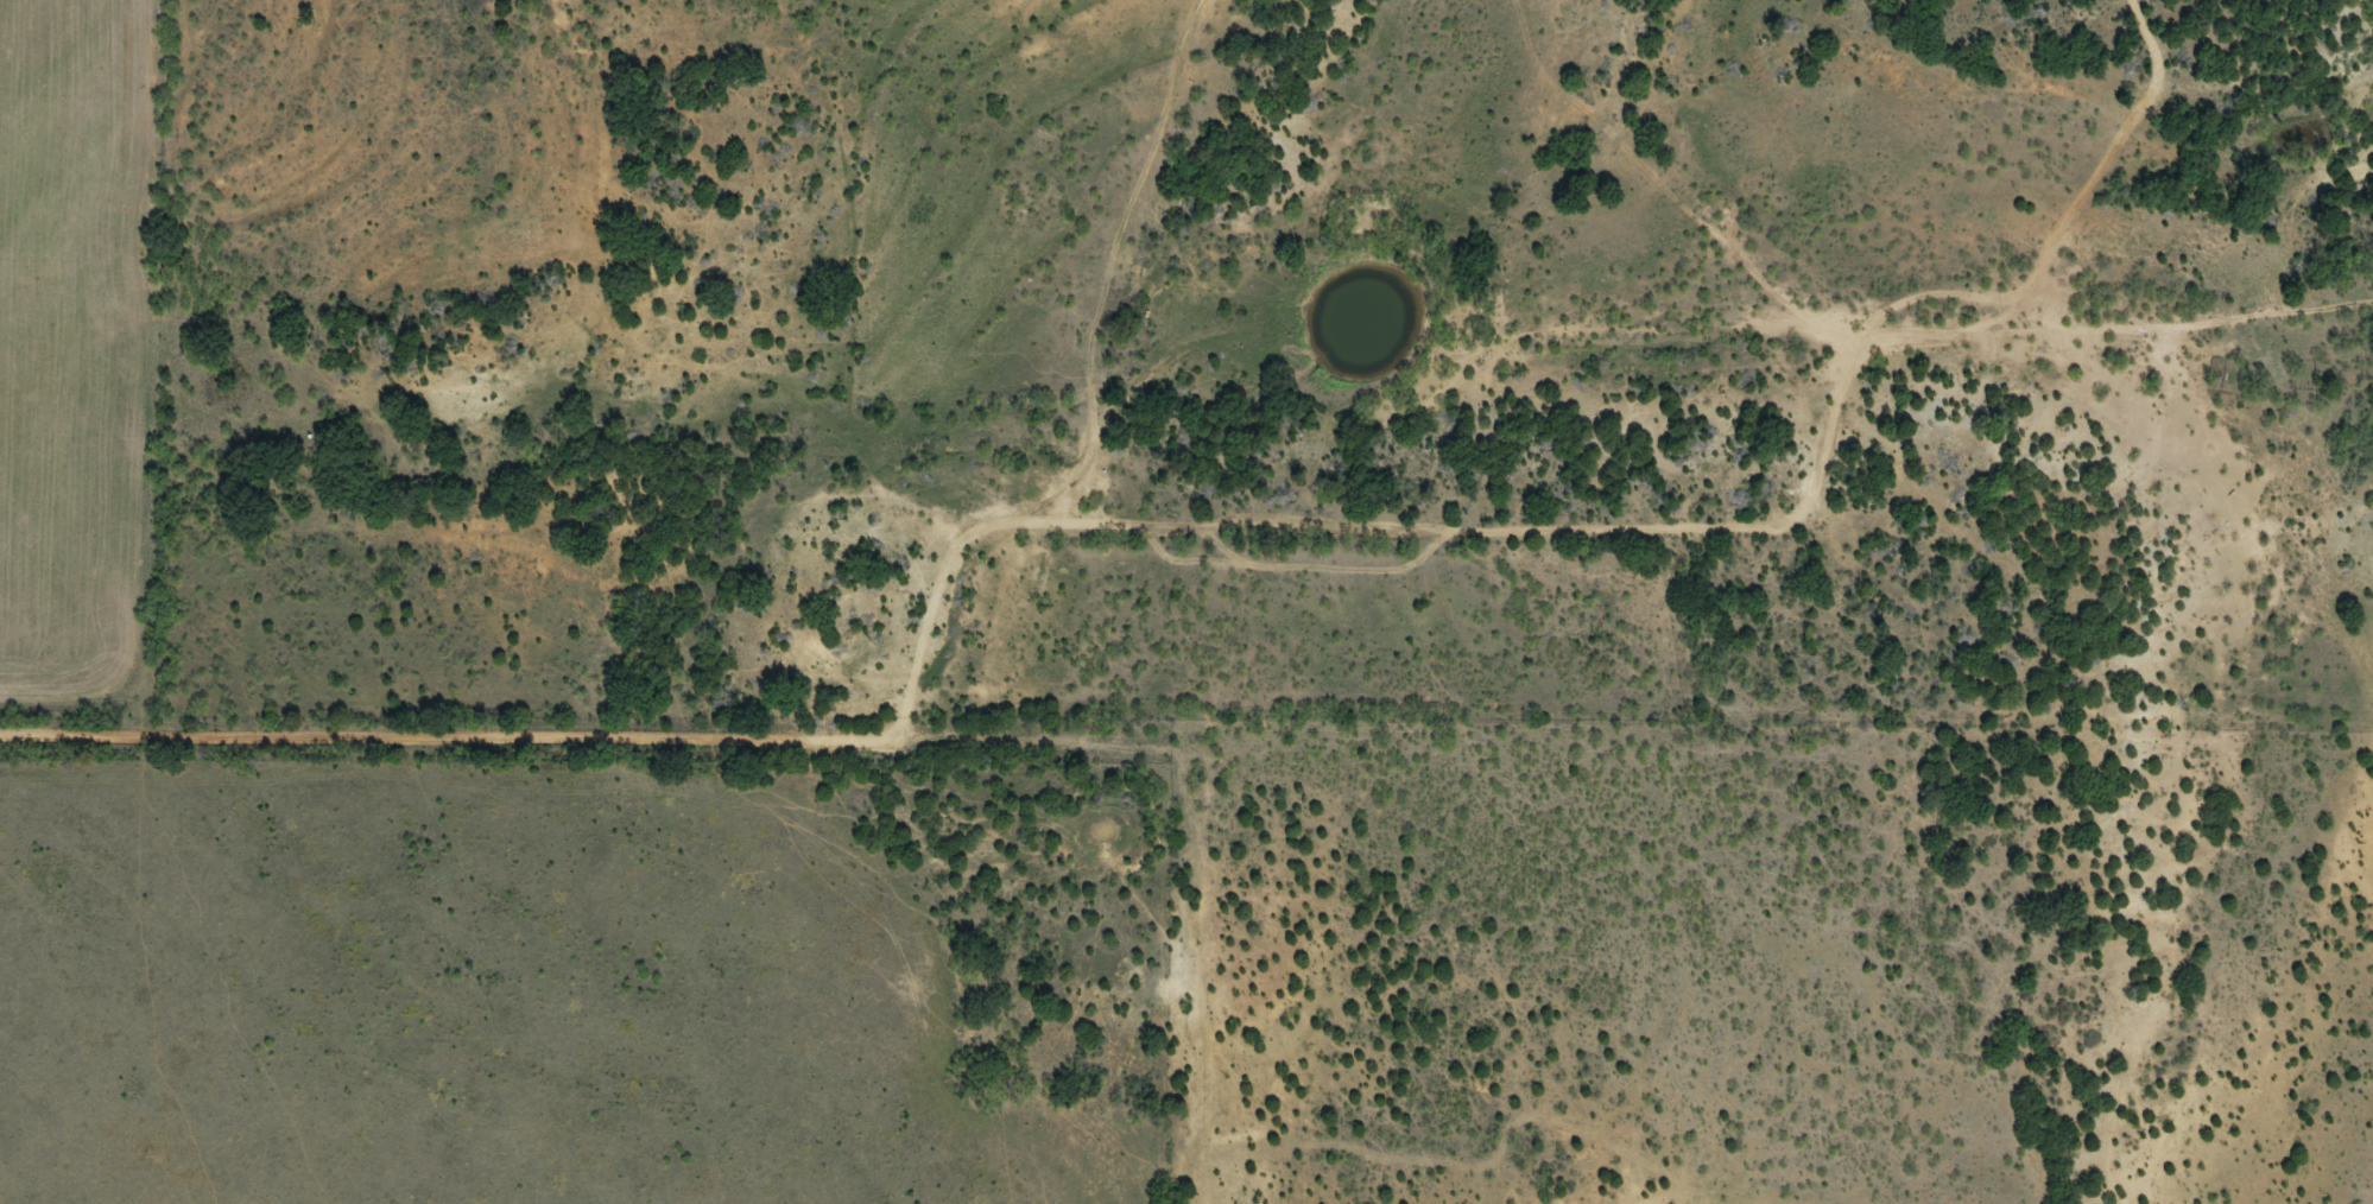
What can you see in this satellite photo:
road: (429, 759)

